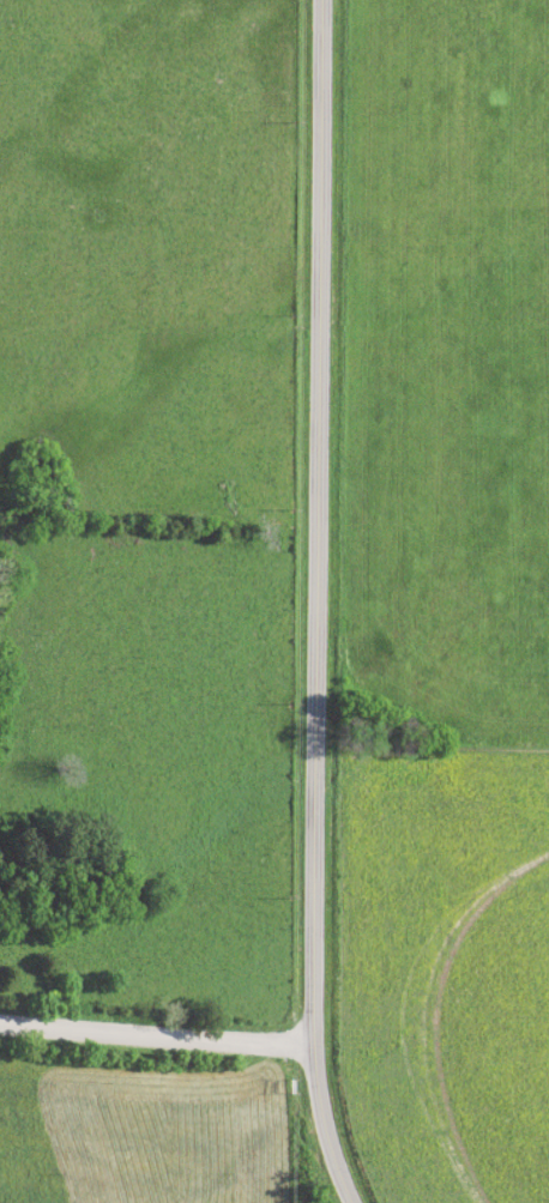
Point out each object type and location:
road: (310, 604)
road: (152, 1036)

